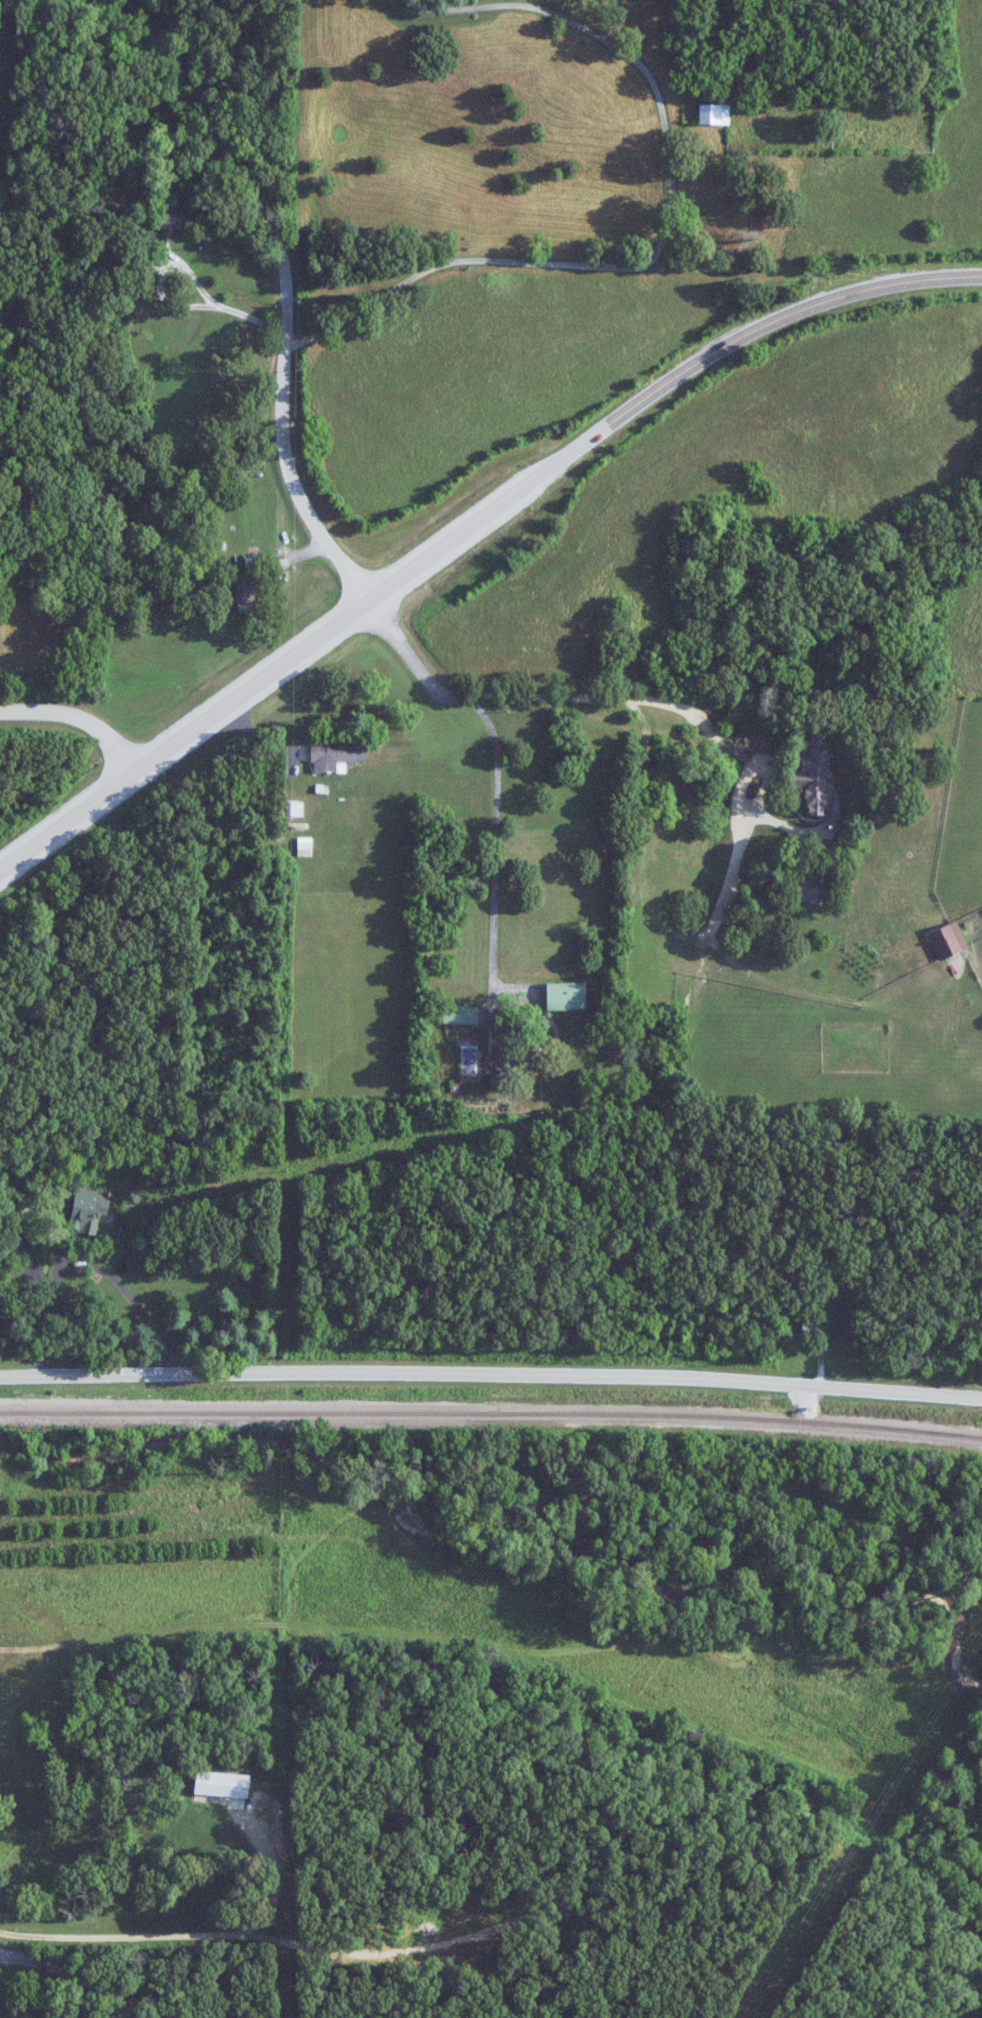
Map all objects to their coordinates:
building: (714, 113)
road: (335, 121)
building: (172, 218)
road: (341, 219)
road: (662, 227)
road: (297, 280)
road: (470, 528)
building: (245, 598)
road: (80, 717)
building: (337, 755)
road: (498, 774)
building: (815, 778)
building: (305, 847)
building: (809, 887)
building: (948, 941)
building: (566, 996)
building: (461, 1015)
building: (525, 1069)
building: (83, 1208)
building: (10, 1241)
road: (93, 1266)
building: (253, 1281)
building: (812, 1328)
road: (491, 1373)
railway: (491, 1412)
road: (186, 1933)
road: (68, 1971)
road: (70, 1994)

